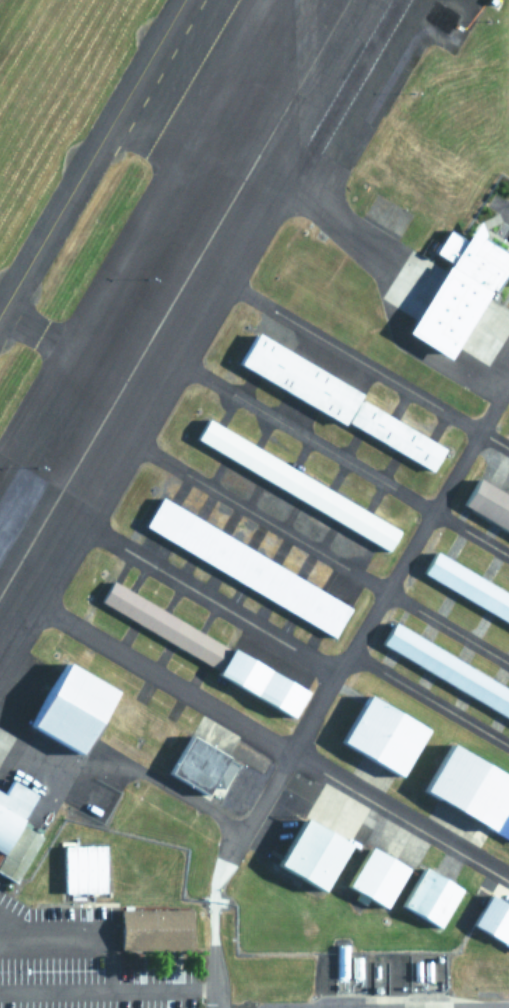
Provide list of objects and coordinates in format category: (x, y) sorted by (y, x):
airport taxiway: (91, 156)
road: (303, 169)
building: (460, 292)
airport apron: (146, 295)
road: (441, 366)
road: (506, 374)
building: (297, 381)
building: (394, 438)
building: (295, 487)
airport: (254, 504)
building: (489, 507)
building: (245, 570)
building: (467, 590)
building: (163, 629)
building: (446, 672)
building: (260, 687)
road: (328, 687)
building: (70, 711)
building: (379, 739)
building: (200, 769)
building: (469, 794)
building: (13, 832)
building: (307, 856)
building: (82, 872)
building: (372, 879)
building: (427, 900)
building: (492, 922)
road: (6, 923)
building: (154, 932)
road: (84, 941)
building: (341, 962)
parking lot: (68, 963)
road: (106, 997)

